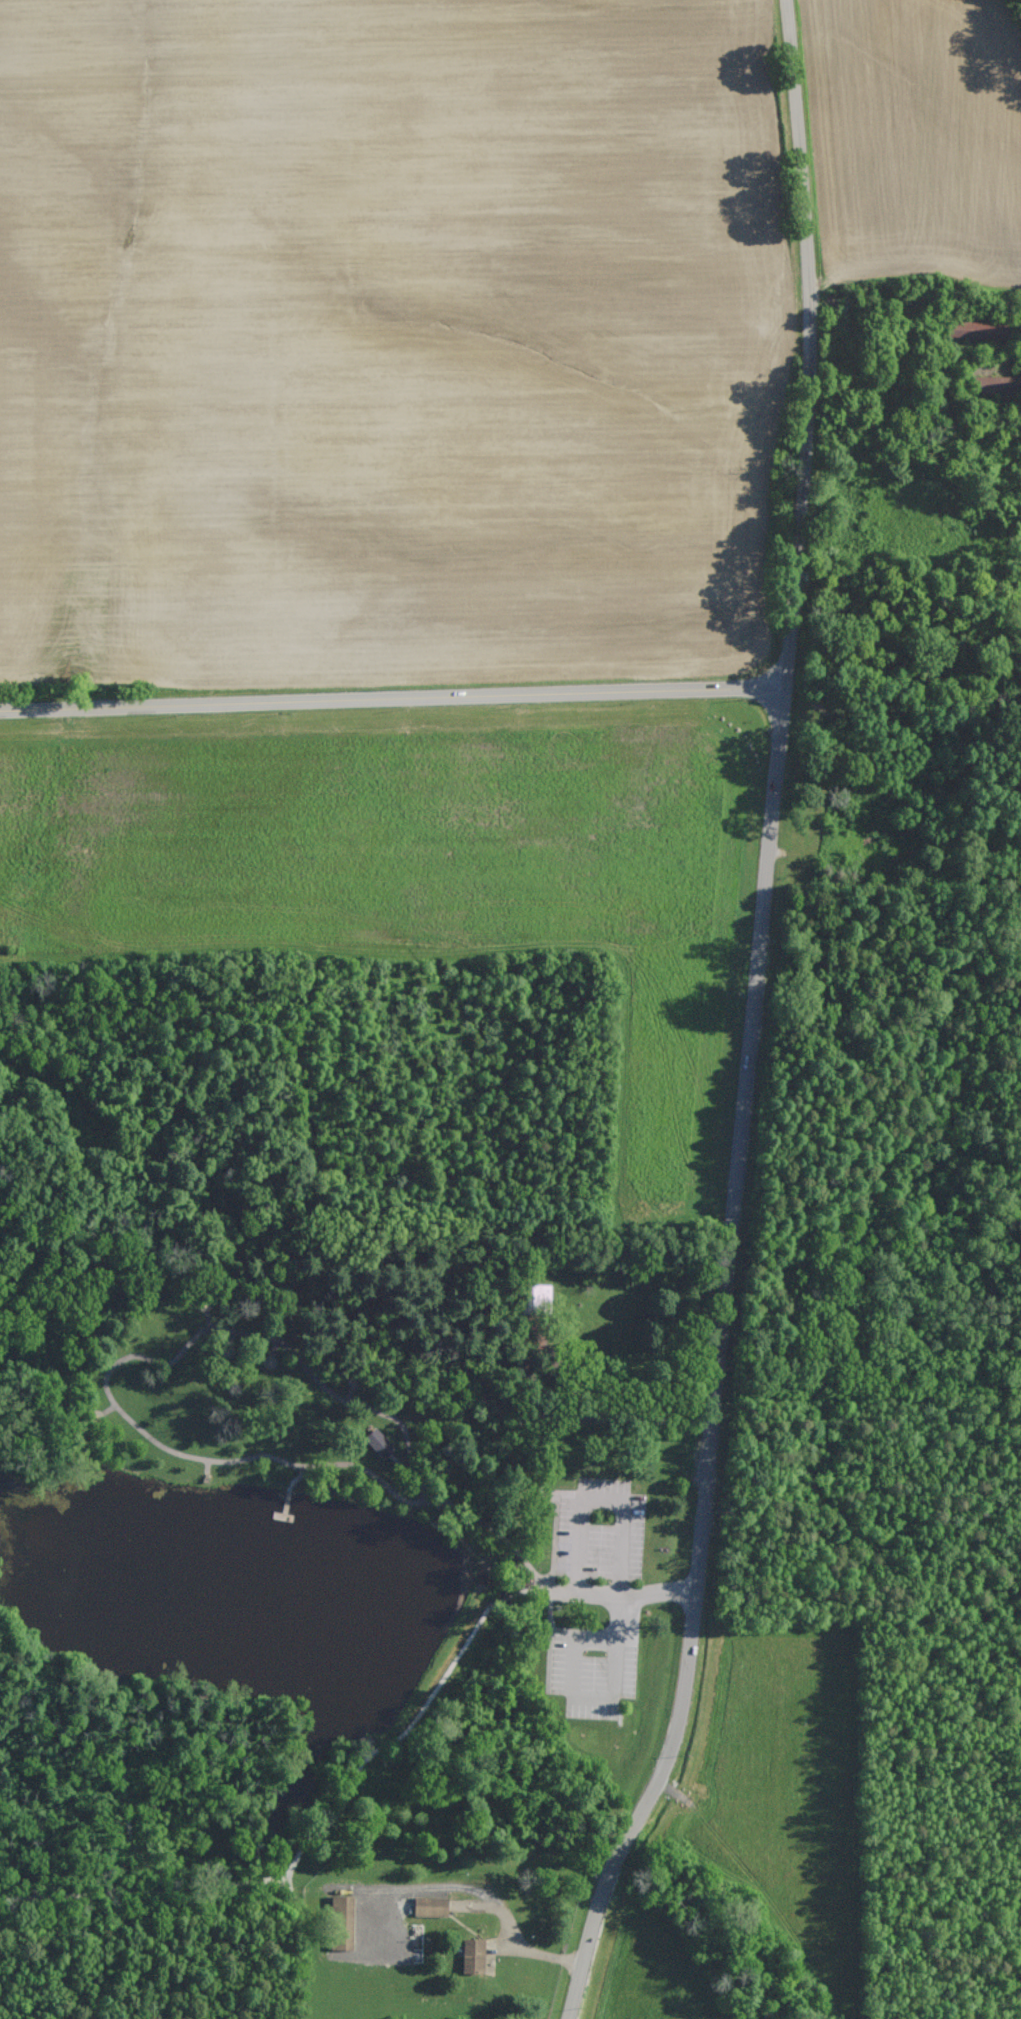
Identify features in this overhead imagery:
building: (978, 329)
building: (997, 384)
road: (391, 695)
road: (750, 1021)
road: (207, 1319)
road: (194, 1335)
road: (349, 1392)
road: (108, 1409)
park: (318, 1442)
building: (378, 1442)
road: (403, 1463)
road: (207, 1467)
road: (296, 1476)
building: (537, 1493)
pier: (284, 1509)
road: (555, 1533)
road: (535, 1583)
road: (534, 1591)
road: (622, 1594)
road: (503, 1598)
parking lot: (597, 1601)
road: (617, 1601)
road: (550, 1639)
road: (122, 1744)
road: (337, 1799)
road: (229, 1875)
road: (97, 1893)
building: (430, 1906)
building: (342, 1922)
building: (473, 1955)

